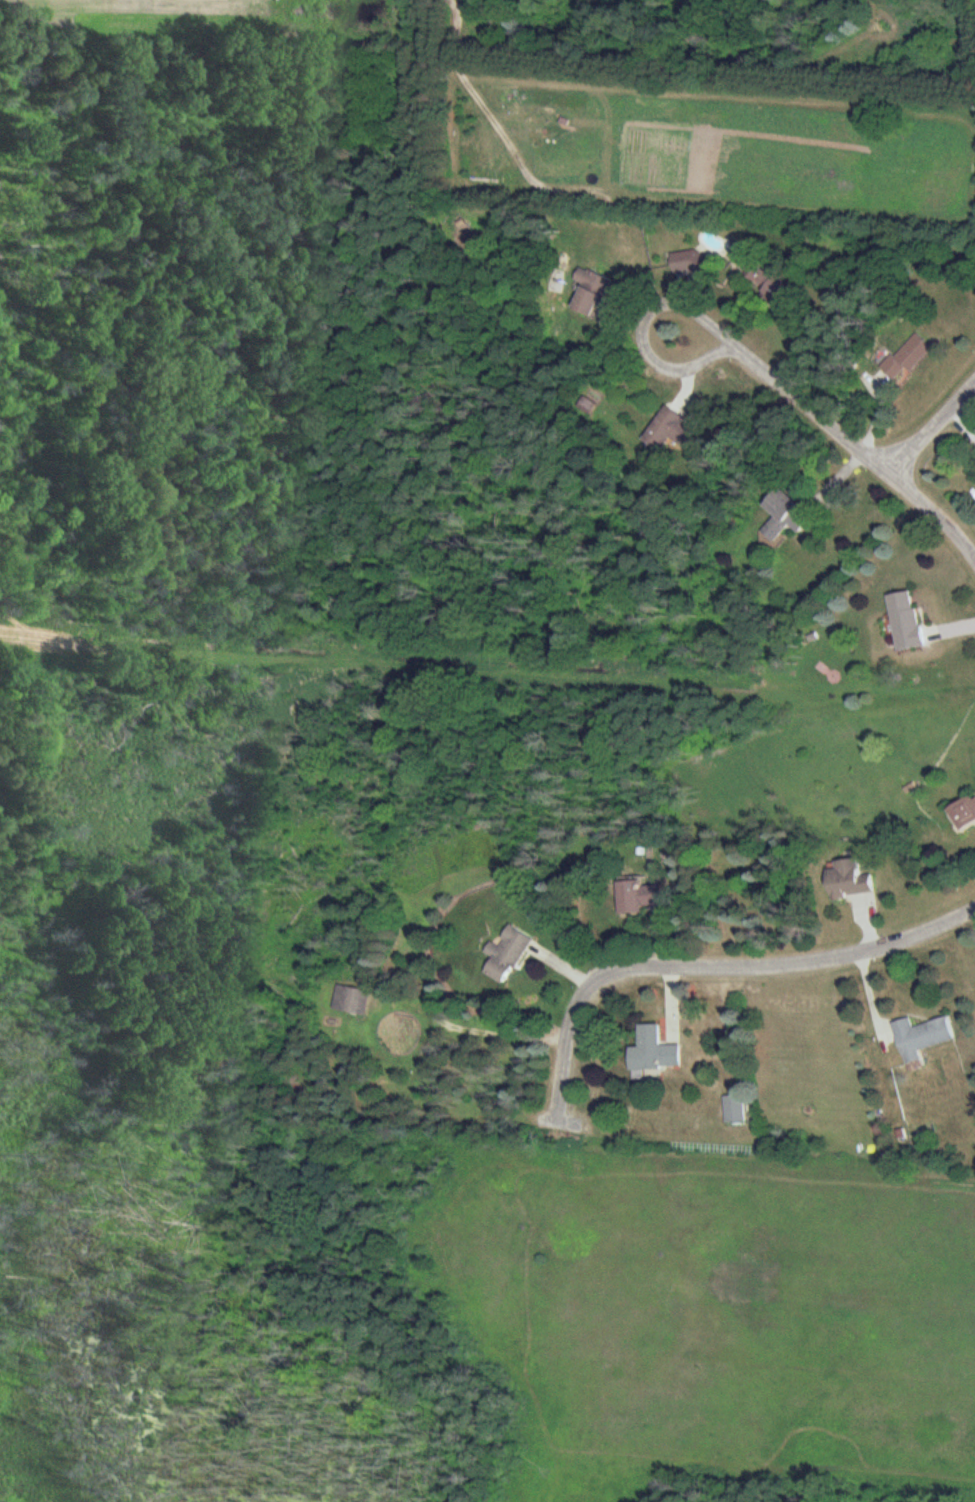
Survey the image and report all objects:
building: (686, 261)
building: (769, 283)
building: (591, 292)
building: (905, 357)
road: (822, 417)
building: (667, 429)
road: (933, 429)
building: (783, 515)
building: (904, 622)
building: (964, 811)
building: (847, 877)
building: (629, 895)
building: (506, 953)
road: (718, 962)
building: (351, 999)
building: (921, 1035)
building: (653, 1050)
building: (734, 1108)

